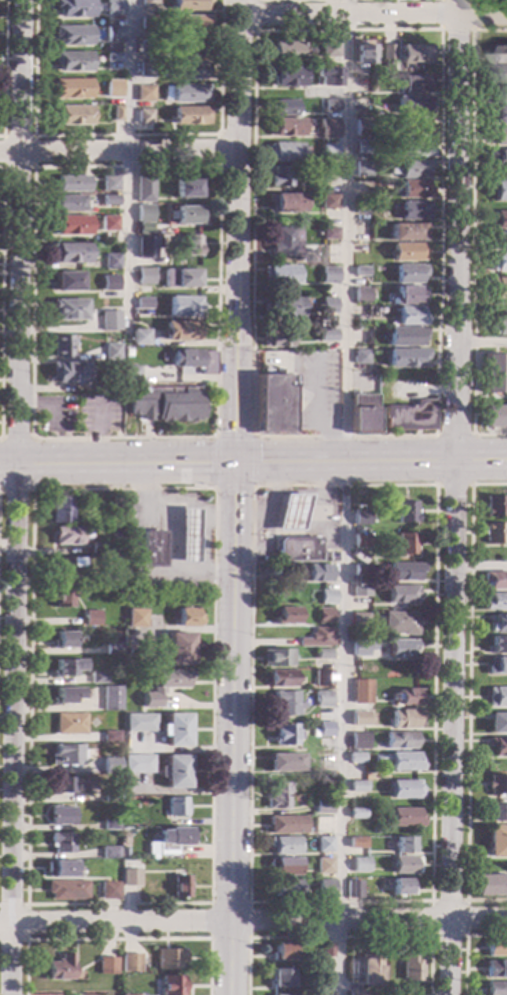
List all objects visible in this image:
road: (254, 0)
road: (302, 0)
building: (148, 3)
building: (188, 5)
building: (73, 8)
building: (114, 8)
road: (375, 15)
building: (147, 23)
building: (189, 23)
road: (457, 30)
building: (73, 35)
building: (114, 35)
building: (146, 46)
building: (189, 47)
building: (331, 50)
building: (288, 51)
building: (364, 53)
building: (388, 53)
building: (499, 53)
building: (415, 55)
building: (113, 57)
building: (72, 62)
building: (312, 62)
road: (2, 69)
building: (146, 70)
building: (189, 70)
building: (498, 73)
building: (330, 76)
building: (288, 77)
building: (411, 84)
building: (113, 85)
building: (71, 89)
building: (145, 93)
building: (189, 93)
building: (497, 93)
building: (333, 105)
building: (413, 105)
building: (285, 108)
building: (117, 114)
building: (72, 115)
building: (499, 115)
building: (190, 116)
building: (144, 117)
building: (363, 126)
building: (330, 127)
building: (412, 127)
building: (287, 128)
road: (125, 136)
building: (497, 136)
building: (362, 147)
building: (413, 148)
road: (219, 151)
building: (330, 151)
building: (285, 152)
road: (119, 153)
building: (497, 159)
road: (1, 168)
road: (32, 168)
building: (362, 168)
building: (413, 169)
road: (130, 171)
building: (330, 171)
building: (281, 177)
building: (73, 184)
building: (110, 184)
building: (144, 188)
building: (187, 188)
building: (413, 190)
building: (499, 191)
building: (110, 200)
building: (329, 201)
building: (287, 203)
building: (70, 204)
building: (362, 208)
building: (411, 211)
road: (0, 213)
building: (144, 214)
building: (186, 216)
building: (498, 220)
building: (109, 223)
building: (71, 225)
road: (239, 232)
building: (404, 232)
road: (349, 233)
building: (329, 234)
road: (469, 235)
building: (498, 241)
building: (287, 243)
building: (188, 247)
building: (144, 249)
building: (405, 252)
building: (69, 253)
building: (312, 260)
building: (111, 262)
building: (498, 262)
building: (360, 271)
building: (407, 273)
building: (279, 275)
building: (145, 276)
building: (328, 276)
building: (180, 279)
building: (67, 281)
building: (109, 283)
building: (498, 287)
building: (360, 294)
building: (406, 296)
building: (143, 304)
building: (327, 306)
building: (184, 307)
building: (281, 308)
building: (69, 310)
building: (407, 316)
building: (110, 321)
building: (498, 327)
building: (180, 331)
building: (326, 336)
building: (360, 336)
building: (402, 336)
building: (139, 338)
building: (277, 339)
road: (480, 343)
building: (60, 345)
building: (125, 350)
building: (111, 352)
building: (359, 357)
building: (403, 357)
building: (193, 360)
building: (68, 372)
building: (129, 373)
building: (491, 374)
road: (488, 398)
building: (273, 400)
road: (42, 404)
building: (164, 404)
building: (361, 414)
parking lot: (54, 415)
parking lot: (95, 415)
building: (409, 416)
building: (493, 416)
road: (94, 436)
road: (451, 436)
road: (251, 437)
road: (29, 465)
traffic signals: (236, 466)
road: (371, 466)
road: (118, 467)
road: (451, 486)
road: (248, 488)
road: (295, 492)
road: (16, 497)
road: (452, 497)
building: (493, 506)
road: (318, 508)
building: (58, 510)
building: (290, 513)
gas station: (290, 513)
building: (404, 513)
road: (218, 516)
road: (251, 516)
building: (359, 517)
road: (266, 519)
road: (201, 526)
building: (492, 533)
building: (65, 536)
building: (186, 536)
road: (170, 541)
building: (360, 541)
building: (404, 543)
building: (97, 548)
building: (153, 549)
building: (296, 549)
building: (112, 565)
road: (479, 565)
building: (67, 567)
building: (360, 570)
building: (402, 571)
building: (316, 574)
building: (494, 580)
building: (360, 592)
building: (400, 594)
building: (326, 596)
building: (60, 598)
building: (494, 602)
building: (324, 615)
building: (286, 616)
building: (90, 618)
building: (134, 618)
building: (184, 618)
building: (358, 620)
building: (399, 623)
building: (497, 623)
building: (318, 639)
building: (62, 640)
building: (497, 645)
building: (362, 647)
building: (400, 648)
building: (112, 649)
building: (177, 649)
building: (129, 653)
building: (323, 653)
building: (275, 658)
building: (496, 666)
building: (65, 668)
building: (97, 678)
building: (322, 678)
building: (281, 679)
building: (164, 685)
building: (360, 693)
road: (467, 695)
building: (64, 696)
building: (405, 697)
building: (496, 697)
building: (110, 699)
building: (322, 699)
building: (284, 703)
building: (360, 719)
building: (404, 719)
building: (138, 723)
building: (496, 723)
building: (68, 724)
building: (324, 729)
building: (174, 730)
road: (233, 730)
road: (341, 730)
building: (313, 734)
building: (283, 735)
building: (110, 737)
building: (358, 740)
building: (398, 740)
building: (497, 746)
building: (66, 755)
building: (303, 755)
building: (355, 758)
building: (402, 761)
building: (283, 762)
building: (135, 764)
building: (110, 766)
building: (174, 772)
building: (496, 785)
building: (61, 786)
building: (357, 786)
building: (403, 790)
building: (276, 795)
building: (110, 797)
building: (175, 807)
building: (322, 808)
building: (493, 813)
building: (355, 814)
building: (61, 816)
building: (124, 816)
building: (402, 818)
building: (285, 825)
building: (109, 826)
building: (373, 831)
building: (168, 841)
building: (496, 842)
building: (61, 843)
building: (355, 843)
building: (322, 844)
building: (282, 845)
building: (402, 845)
building: (109, 853)
building: (359, 865)
building: (402, 865)
building: (283, 866)
building: (323, 866)
building: (60, 869)
building: (130, 878)
building: (489, 886)
building: (179, 887)
building: (399, 887)
building: (324, 888)
building: (285, 889)
building: (67, 890)
building: (109, 890)
building: (352, 890)
road: (429, 900)
road: (27, 904)
road: (209, 904)
road: (253, 920)
road: (27, 922)
road: (338, 938)
road: (464, 938)
road: (118, 939)
road: (464, 945)
building: (496, 948)
building: (325, 950)
building: (280, 951)
building: (168, 959)
building: (129, 963)
building: (106, 966)
building: (61, 968)
building: (409, 968)
building: (496, 969)
building: (368, 970)
building: (319, 974)
building: (283, 979)
building: (170, 985)
building: (496, 989)
building: (354, 993)
building: (125, 994)
building: (405, 994)

